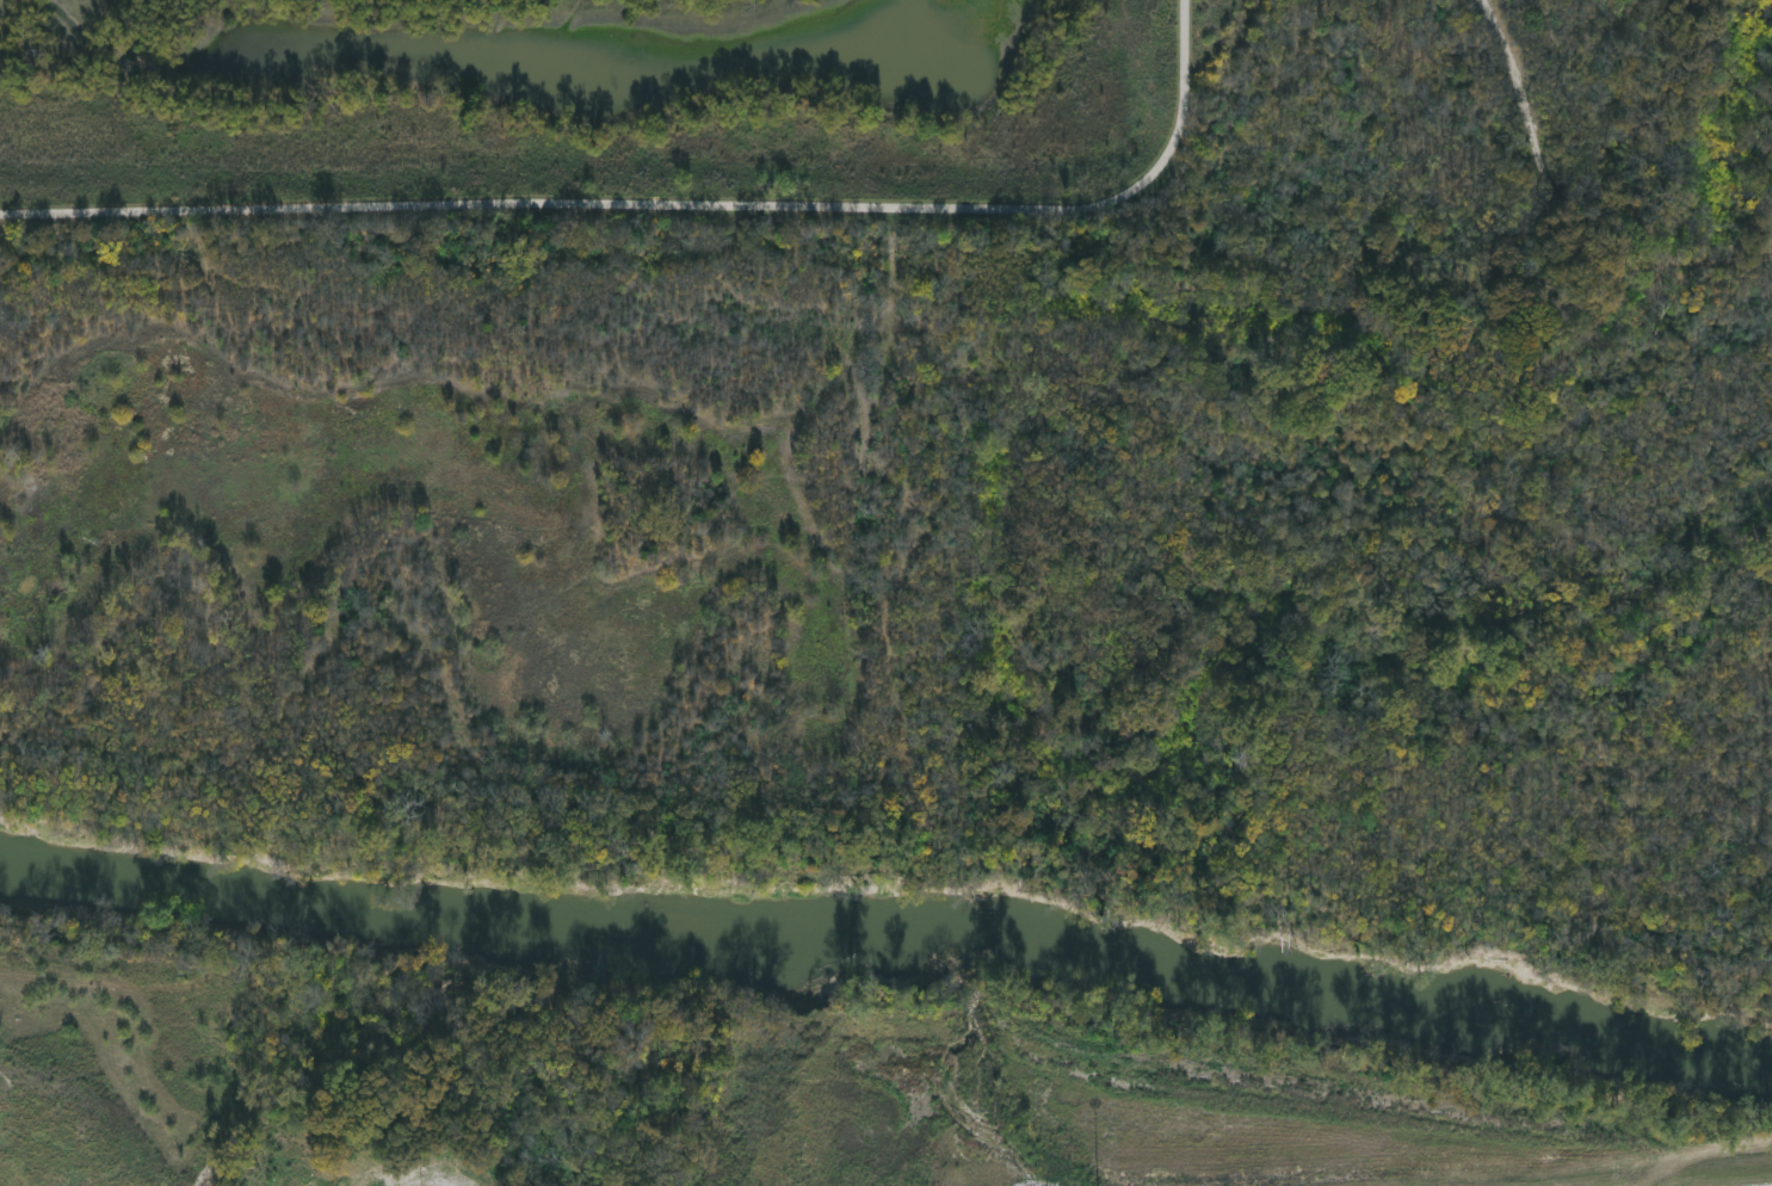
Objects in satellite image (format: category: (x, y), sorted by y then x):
road: (671, 200)
river: (887, 922)

